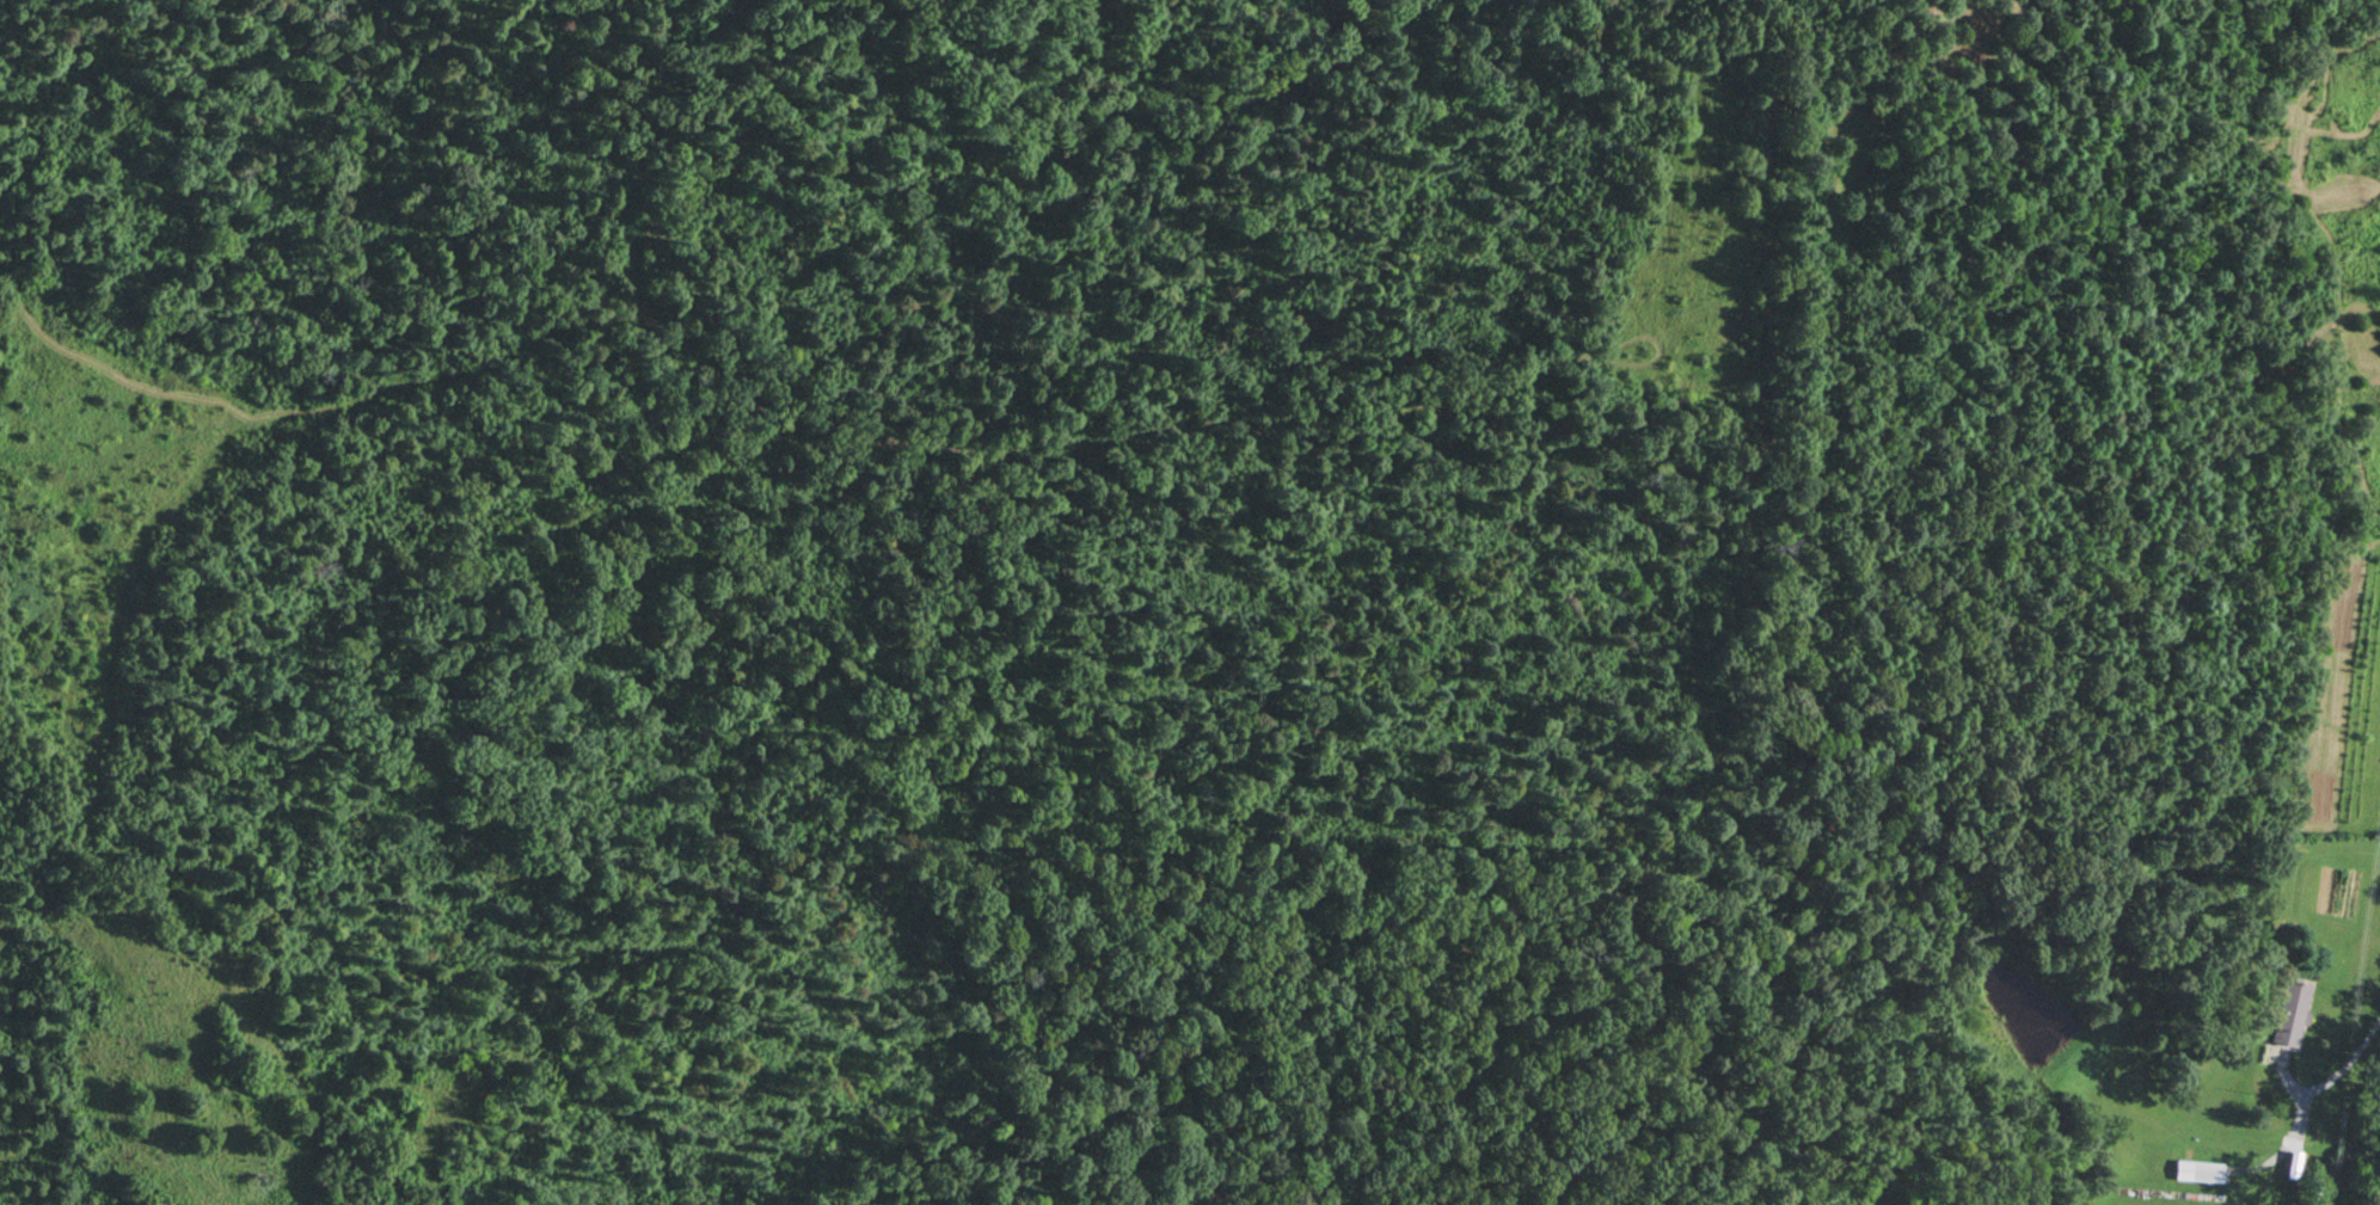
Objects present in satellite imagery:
building: (2284, 1014)
road: (2320, 1077)
building: (2197, 1172)

